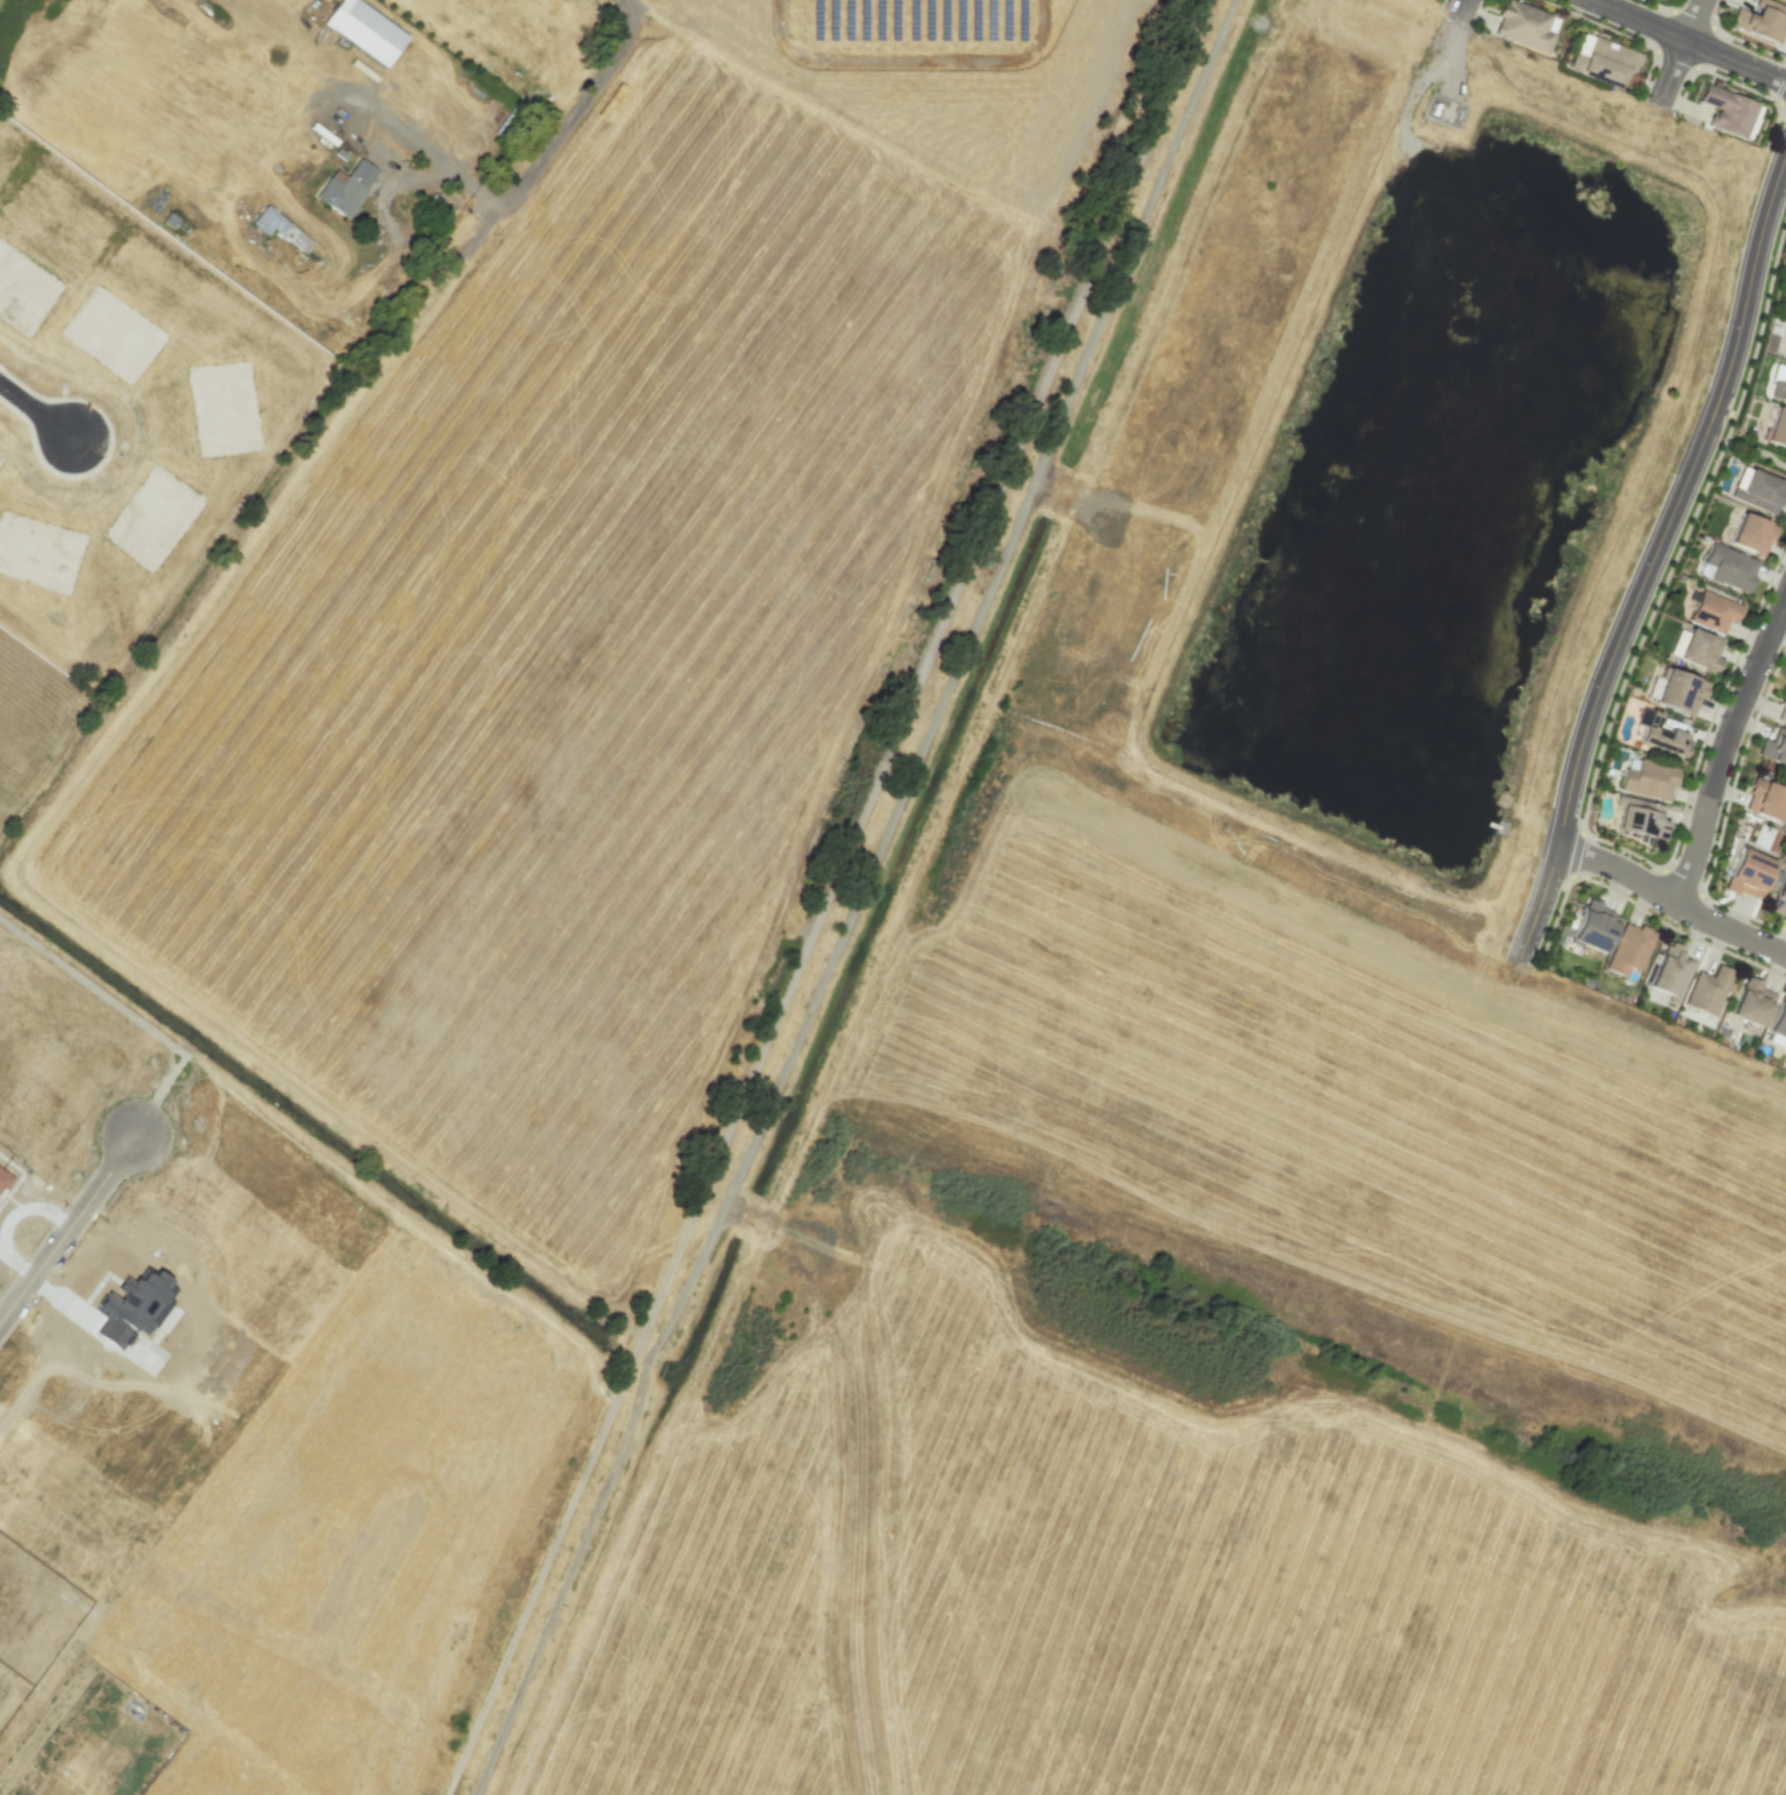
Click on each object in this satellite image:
building: (1785, 0)
road: (1461, 8)
street lamp: (1581, 13)
building: (1761, 21)
building: (1523, 24)
building: (365, 30)
road: (1691, 41)
road: (1677, 52)
building: (1606, 60)
building: (1727, 110)
road: (557, 129)
road: (426, 147)
building: (345, 187)
street lamp: (1782, 216)
building: (264, 220)
building: (1779, 387)
road: (35, 414)
building: (1775, 427)
park: (1752, 449)
street lamp: (1714, 459)
building: (1757, 490)
building: (1750, 534)
road: (1653, 558)
building: (1729, 567)
building: (1712, 611)
building: (1694, 648)
street lamp: (1581, 683)
building: (1675, 690)
building: (1781, 710)
building: (1656, 734)
road: (1724, 744)
building: (1774, 747)
building: (1647, 780)
building: (1764, 799)
building: (1640, 821)
building: (1767, 838)
building: (1747, 873)
building: (1779, 897)
road: (845, 898)
road: (1671, 898)
road: (855, 904)
street lamp: (1669, 922)
building: (1593, 927)
street lamp: (1505, 943)
building: (1629, 949)
building: (1669, 971)
building: (1706, 990)
building: (1778, 1021)
crop: (1334, 1105)
road: (66, 1229)
crop: (394, 1473)
road: (1636, 1599)

